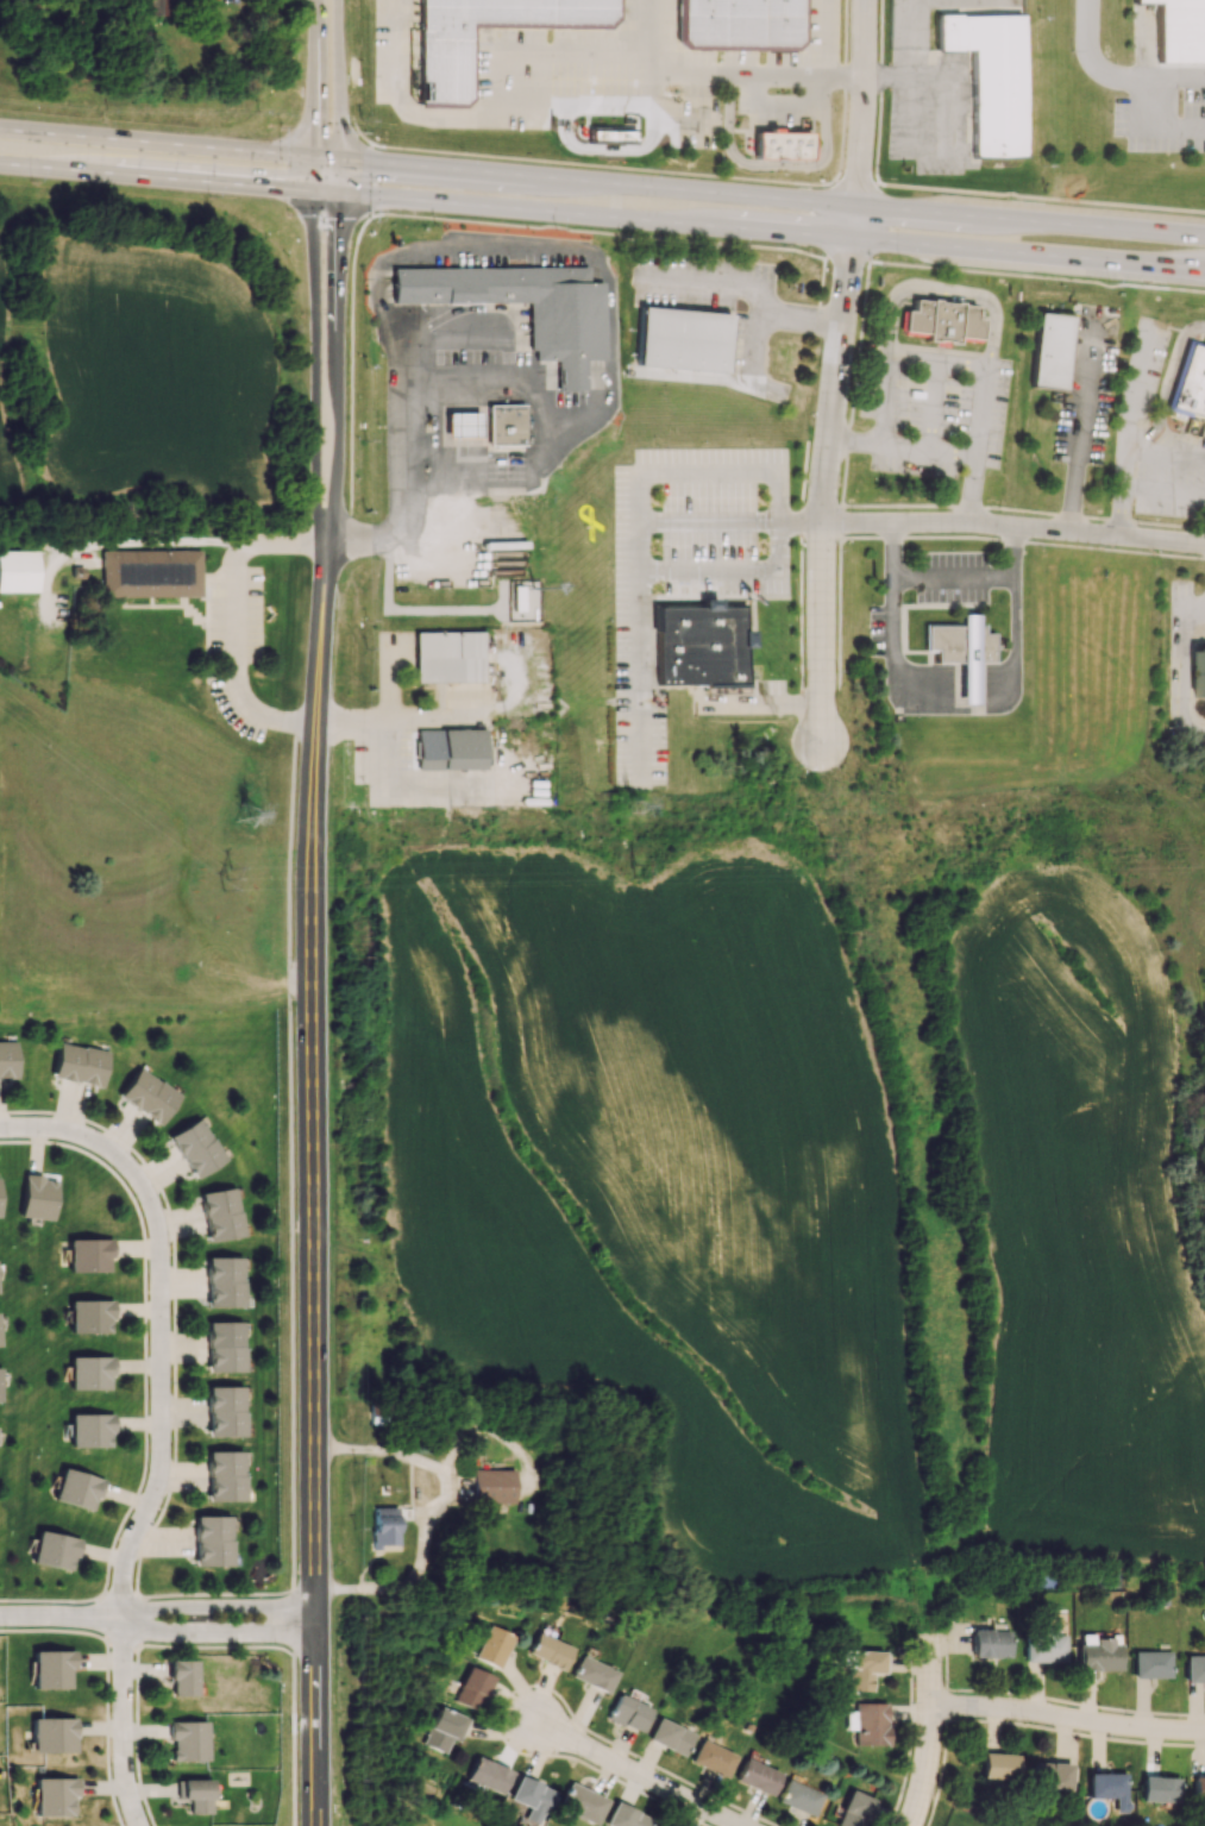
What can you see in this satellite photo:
building: (155, 7)
building: (739, 24)
building: (1180, 30)
road: (823, 38)
road: (911, 38)
road: (648, 52)
building: (447, 67)
parking lot: (609, 67)
road: (754, 75)
road: (1113, 76)
road: (886, 77)
road: (315, 79)
building: (990, 79)
road: (337, 80)
road: (845, 90)
road: (877, 93)
road: (1146, 96)
road: (571, 102)
road: (782, 102)
road: (859, 102)
road: (495, 108)
parking lot: (1162, 108)
road: (684, 123)
road: (356, 127)
road: (610, 127)
building: (609, 138)
building: (782, 144)
road: (169, 145)
road: (608, 149)
road: (955, 150)
traffic signals: (315, 158)
traffic signals: (339, 161)
road: (778, 164)
road: (24, 167)
road: (193, 181)
road: (369, 181)
road: (790, 181)
traffic signals: (315, 193)
traffic signals: (339, 194)
road: (772, 197)
road: (772, 231)
road: (778, 249)
road: (472, 281)
road: (755, 283)
road: (943, 295)
building: (941, 320)
building: (563, 333)
building: (683, 340)
road: (754, 349)
building: (1050, 350)
road: (315, 352)
road: (338, 353)
road: (947, 358)
road: (350, 374)
building: (1190, 383)
road: (1135, 385)
road: (1171, 387)
parking lot: (1087, 391)
road: (934, 402)
parking lot: (934, 409)
road: (406, 413)
building: (506, 422)
building: (463, 423)
road: (1081, 425)
parking lot: (1153, 433)
road: (544, 438)
road: (929, 446)
road: (1130, 454)
road: (830, 472)
road: (1166, 492)
road: (778, 495)
road: (1016, 509)
road: (1016, 525)
road: (349, 529)
road: (1023, 541)
road: (639, 559)
parking lot: (686, 567)
building: (19, 570)
building: (151, 571)
road: (977, 575)
road: (892, 588)
parking lot: (924, 591)
building: (516, 597)
road: (414, 610)
building: (533, 614)
storage tank: (533, 614)
road: (236, 623)
building: (697, 644)
building: (959, 644)
building: (450, 657)
building: (968, 658)
parking lot: (1187, 665)
road: (955, 669)
road: (1188, 671)
building: (1198, 672)
road: (954, 677)
road: (955, 688)
parking lot: (766, 696)
road: (996, 697)
road: (764, 704)
road: (370, 723)
building: (451, 749)
power tower: (630, 808)
power tower: (247, 818)
power tower: (639, 871)
power tower: (226, 876)
building: (7, 1059)
building: (80, 1065)
building: (148, 1096)
building: (196, 1147)
road: (309, 1185)
building: (38, 1198)
building: (221, 1213)
building: (89, 1254)
road: (290, 1269)
building: (224, 1281)
building: (90, 1316)
road: (144, 1324)
building: (0, 1341)
building: (225, 1344)
building: (89, 1373)
road: (175, 1376)
building: (0, 1383)
building: (225, 1412)
building: (381, 1412)
road: (161, 1427)
building: (90, 1431)
building: (225, 1476)
building: (494, 1486)
building: (77, 1488)
road: (435, 1508)
building: (383, 1526)
building: (212, 1541)
building: (55, 1549)
road: (120, 1596)
road: (51, 1599)
road: (216, 1602)
road: (62, 1615)
road: (103, 1619)
road: (138, 1619)
road: (52, 1630)
road: (216, 1630)
road: (121, 1642)
building: (991, 1643)
building: (494, 1646)
building: (1043, 1646)
building: (550, 1651)
building: (1098, 1652)
road: (137, 1658)
building: (1150, 1664)
building: (52, 1667)
building: (1194, 1668)
building: (864, 1669)
building: (592, 1674)
building: (183, 1677)
building: (472, 1688)
building: (628, 1712)
road: (1069, 1719)
building: (871, 1724)
building: (445, 1730)
building: (54, 1733)
road: (106, 1733)
building: (670, 1736)
road: (933, 1736)
building: (189, 1742)
building: (713, 1758)
building: (998, 1765)
road: (640, 1772)
building: (488, 1775)
building: (1049, 1775)
building: (758, 1776)
building: (1109, 1788)
building: (1159, 1789)
building: (1198, 1790)
building: (55, 1795)
building: (195, 1795)
building: (799, 1797)
building: (531, 1799)
building: (582, 1802)
building: (854, 1809)
building: (625, 1816)
building: (657, 1825)

